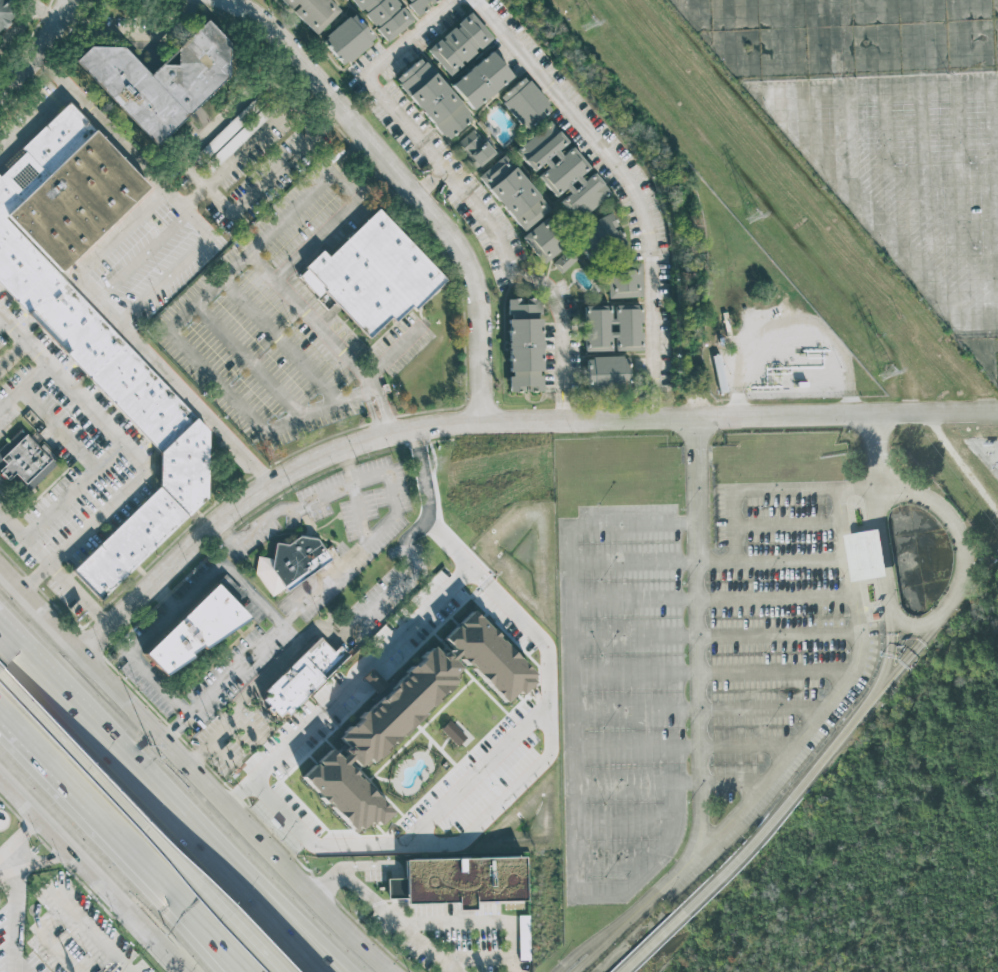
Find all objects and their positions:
road: (236, 4)
building: (417, 5)
building: (6, 11)
building: (312, 12)
road: (38, 15)
building: (383, 15)
power tower: (589, 22)
road: (18, 33)
road: (135, 33)
building: (347, 39)
building: (458, 43)
road: (397, 52)
road: (43, 53)
road: (52, 73)
building: (480, 79)
building: (166, 84)
building: (432, 97)
building: (523, 102)
parking lot: (885, 117)
road: (107, 129)
road: (200, 141)
road: (250, 146)
parking lot: (255, 146)
building: (473, 148)
road: (290, 162)
road: (836, 165)
building: (561, 170)
road: (403, 181)
road: (631, 183)
road: (436, 184)
building: (512, 192)
power tower: (753, 214)
building: (598, 235)
building: (542, 240)
road: (315, 241)
road: (499, 243)
road: (144, 256)
building: (563, 260)
parking lot: (154, 265)
road: (178, 269)
building: (377, 279)
building: (622, 280)
road: (2, 319)
building: (97, 322)
parking lot: (285, 324)
road: (166, 327)
building: (612, 327)
road: (136, 334)
road: (327, 337)
parking lot: (4, 341)
road: (279, 341)
building: (523, 344)
road: (14, 355)
road: (388, 357)
road: (247, 360)
building: (606, 370)
building: (718, 373)
power tower: (886, 373)
road: (24, 386)
road: (934, 412)
road: (438, 426)
road: (59, 427)
road: (861, 448)
road: (133, 452)
road: (874, 454)
road: (682, 456)
road: (709, 456)
building: (26, 460)
road: (347, 468)
road: (73, 488)
road: (858, 488)
road: (752, 491)
road: (788, 525)
road: (439, 534)
road: (952, 536)
road: (371, 545)
road: (885, 550)
building: (864, 556)
road: (773, 561)
road: (634, 563)
building: (293, 567)
road: (55, 568)
road: (412, 568)
road: (777, 596)
road: (166, 598)
road: (635, 599)
road: (175, 612)
road: (909, 623)
building: (196, 630)
road: (780, 632)
road: (699, 634)
road: (635, 636)
road: (891, 641)
road: (913, 649)
road: (359, 670)
road: (778, 670)
road: (635, 672)
road: (874, 672)
parking lot: (696, 676)
building: (306, 681)
road: (839, 691)
road: (255, 696)
road: (763, 707)
road: (635, 708)
building: (411, 714)
road: (50, 733)
road: (97, 737)
road: (572, 740)
road: (747, 745)
road: (636, 747)
road: (25, 758)
road: (829, 760)
road: (195, 768)
road: (477, 775)
road: (731, 782)
road: (635, 783)
road: (625, 819)
road: (21, 837)
road: (618, 859)
road: (44, 861)
road: (6, 864)
road: (133, 871)
road: (89, 873)
road: (189, 878)
building: (458, 880)
road: (356, 884)
road: (690, 905)
road: (257, 907)
road: (270, 907)
road: (10, 917)
road: (640, 917)
road: (480, 921)
road: (89, 928)
building: (523, 937)
road: (428, 946)
road: (58, 949)
road: (475, 954)
road: (217, 967)
road: (218, 967)
road: (13, 971)

